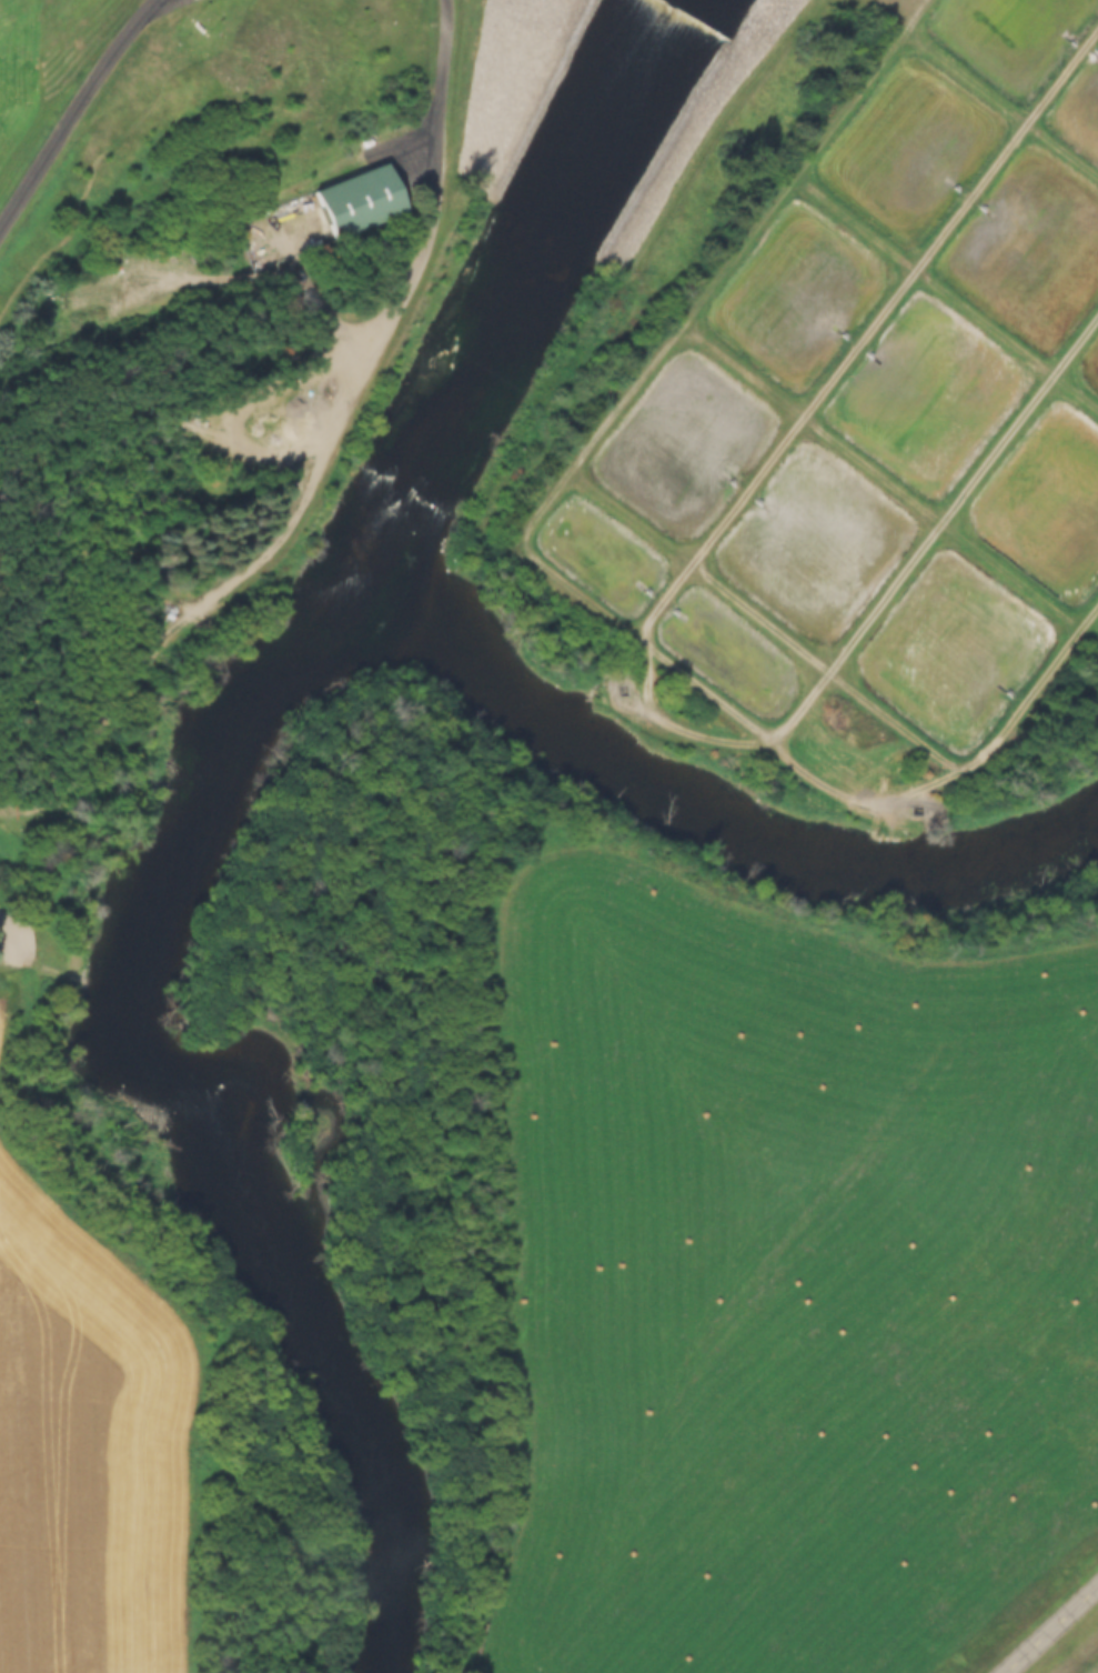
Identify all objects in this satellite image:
road: (148, 6)
road: (440, 93)
road: (70, 119)
road: (71, 147)
building: (363, 201)
river: (507, 300)
road: (289, 527)
road: (9, 940)
road: (19, 1003)
river: (220, 1099)
road: (209, 1356)
road: (1055, 1633)

